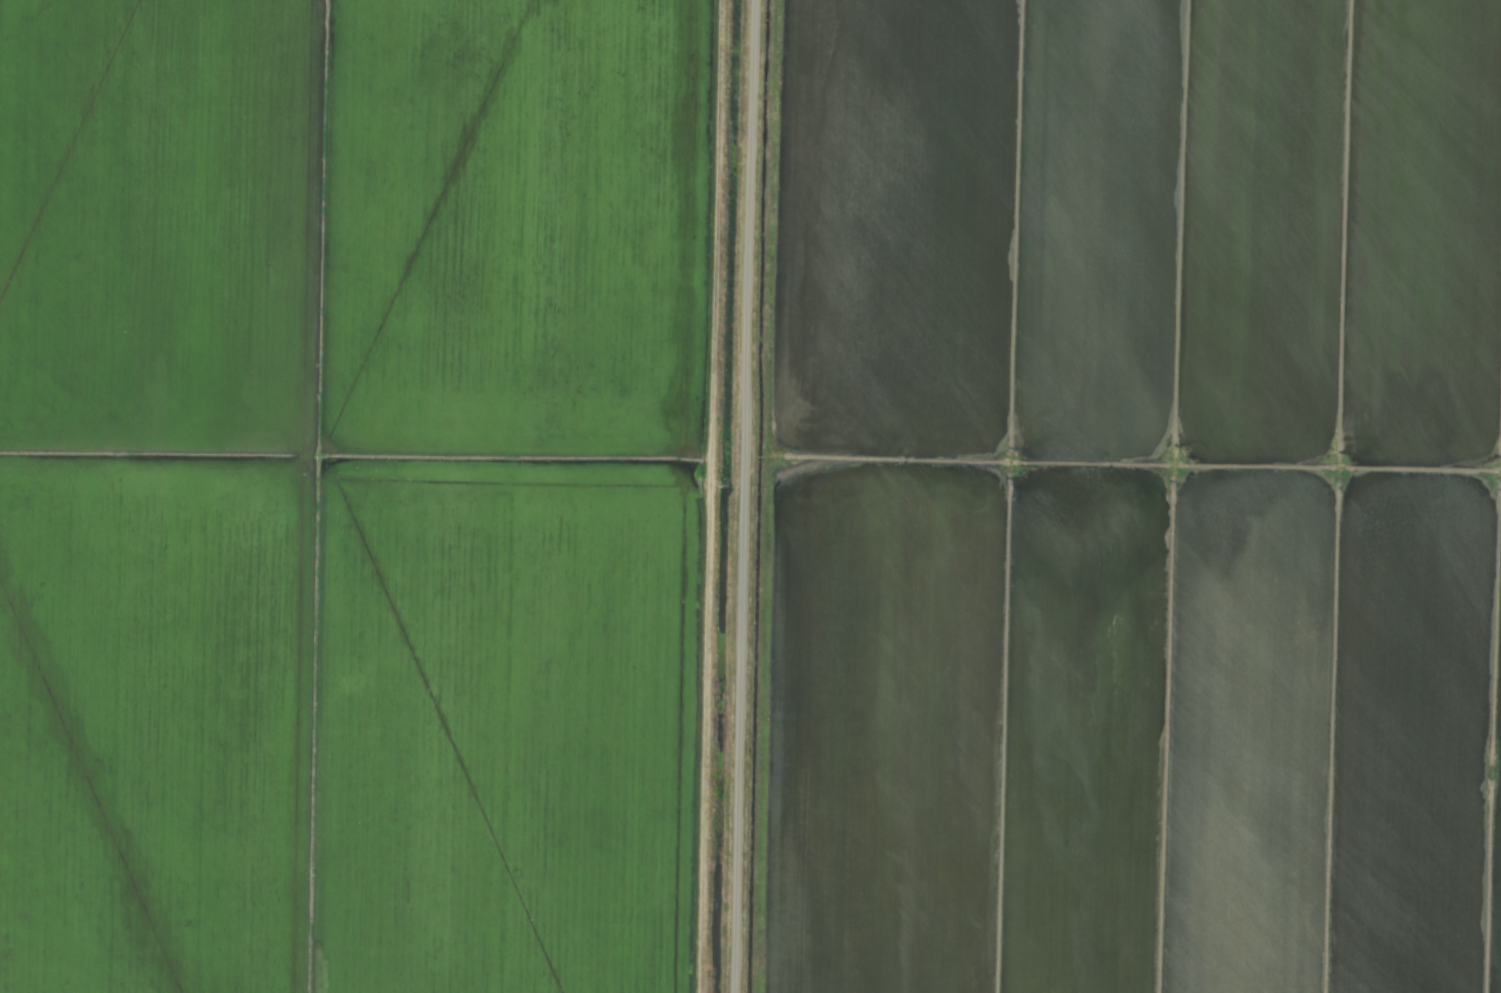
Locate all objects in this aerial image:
road: (742, 496)
crop: (750, 496)

